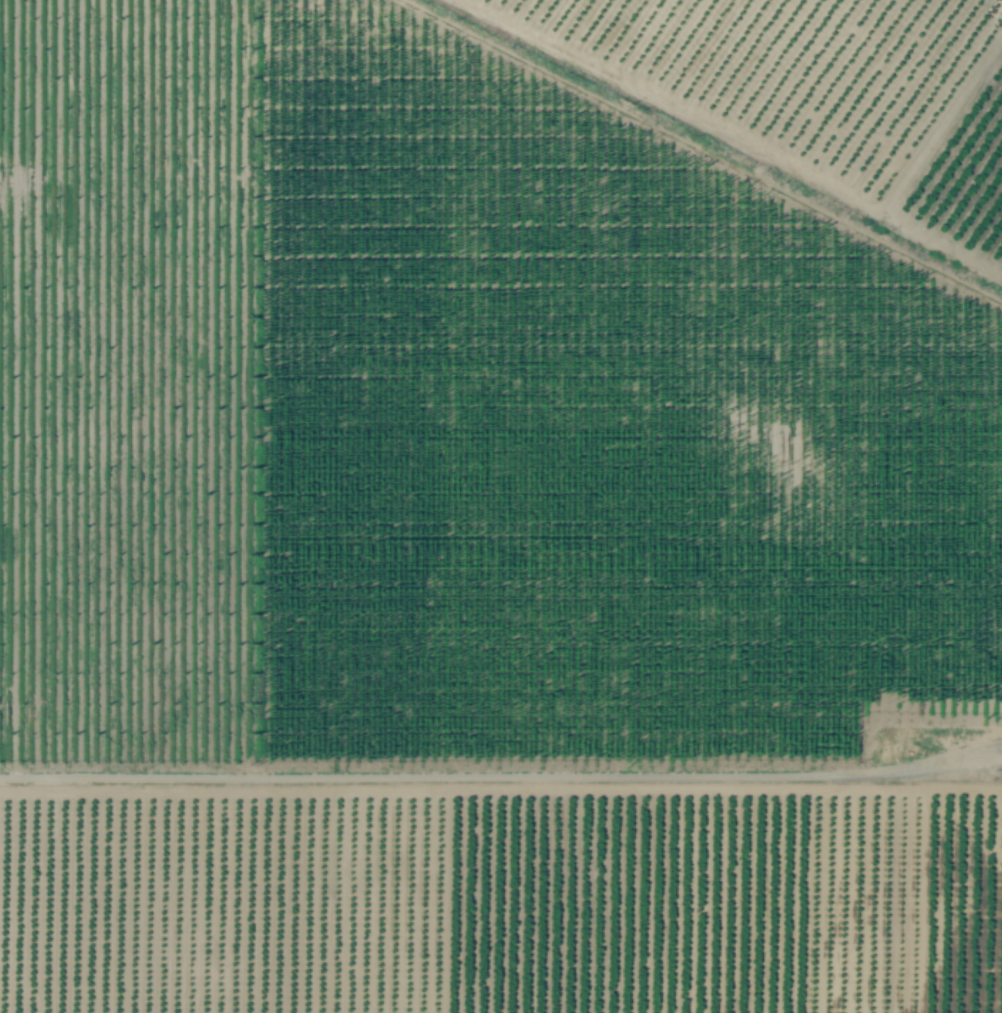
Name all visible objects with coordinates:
crop: (503, 896)

